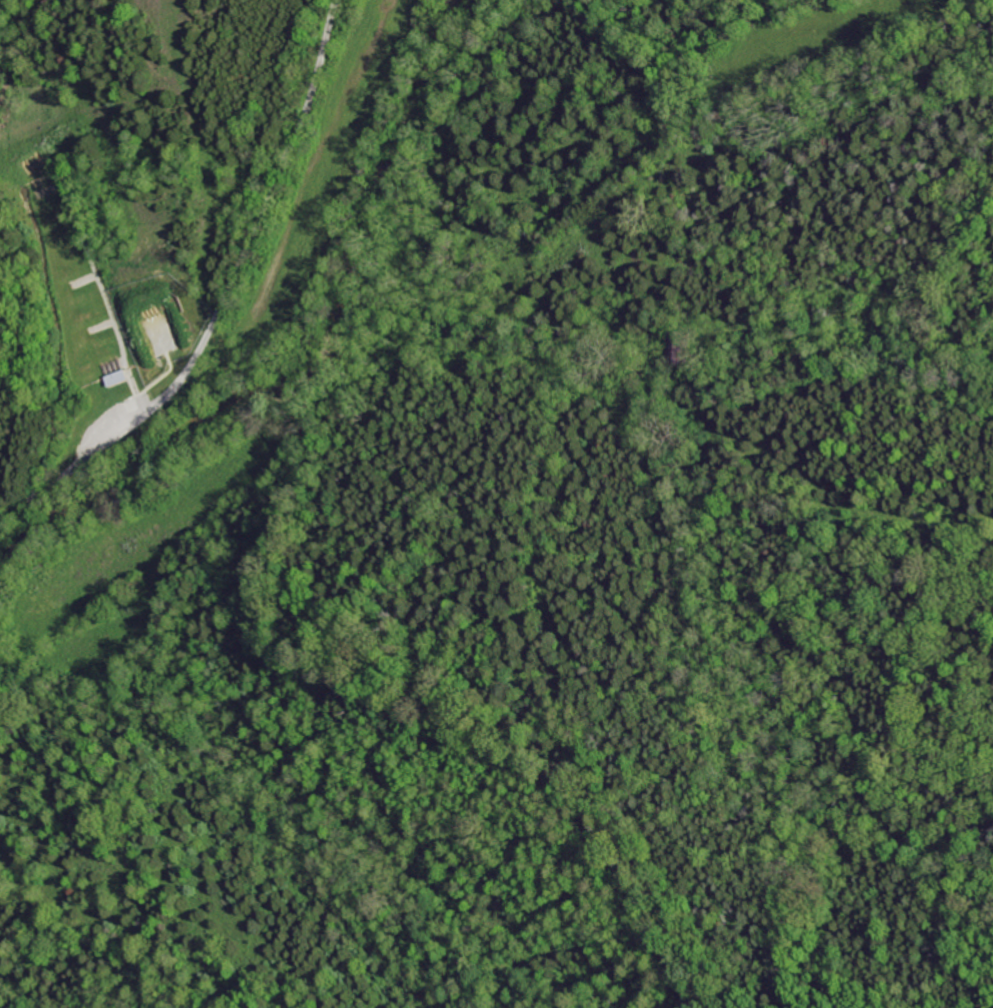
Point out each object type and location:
park: (73, 273)
road: (228, 290)
road: (101, 298)
building: (117, 379)
road: (5, 513)

